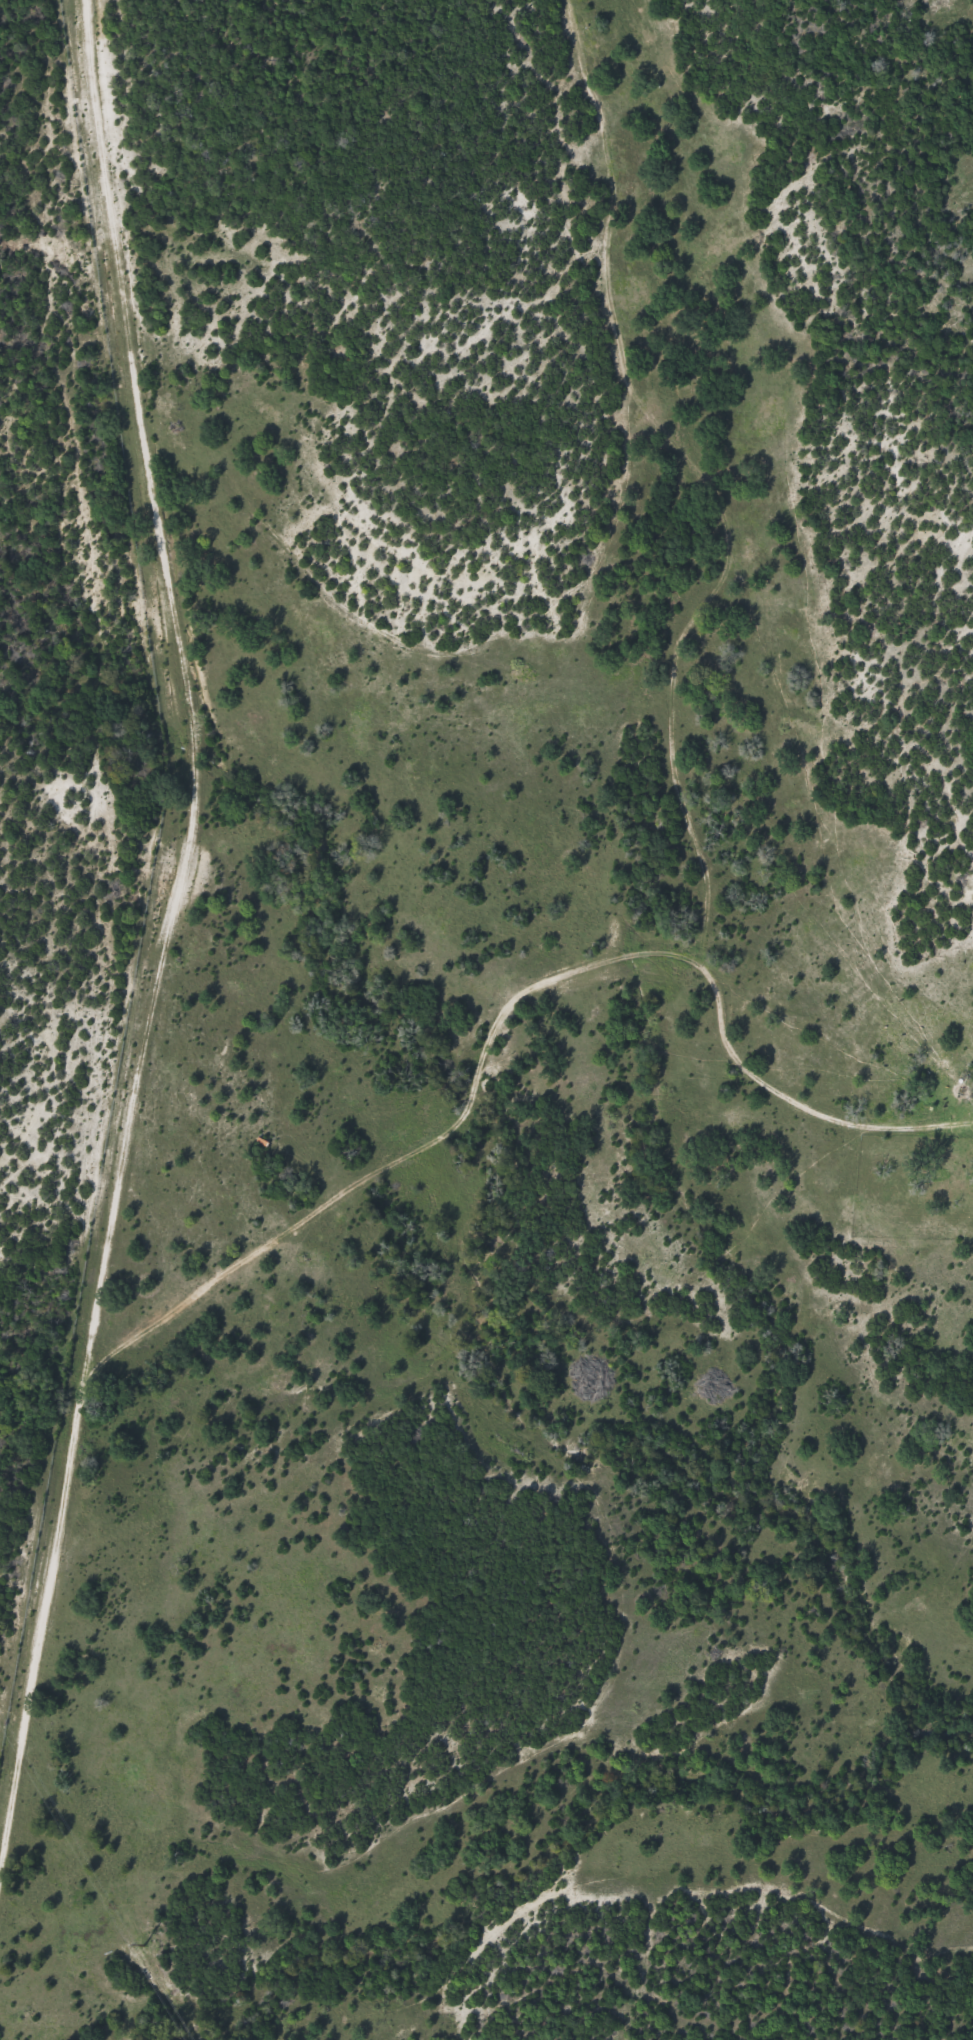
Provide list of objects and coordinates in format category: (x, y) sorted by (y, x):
power tower: (144, 1945)

